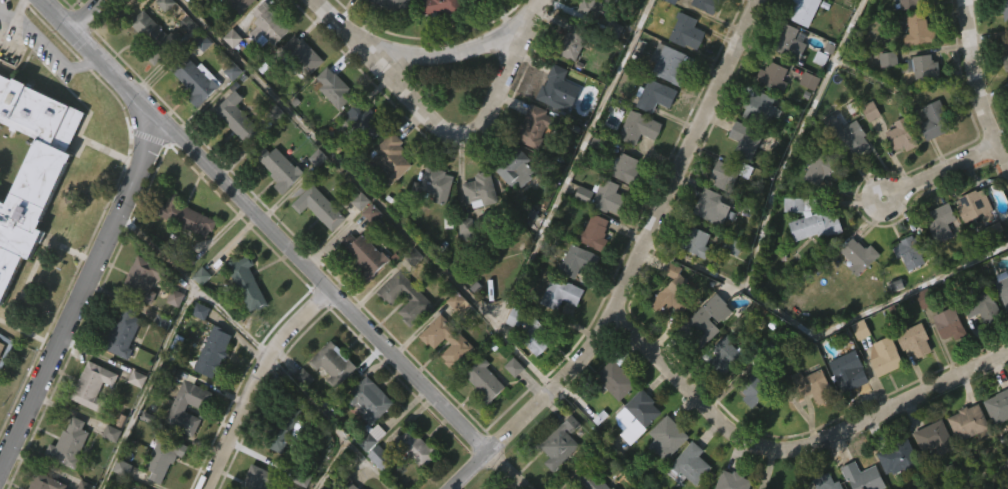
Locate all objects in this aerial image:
building: (897, 1)
building: (913, 3)
building: (184, 4)
building: (239, 5)
building: (393, 5)
building: (706, 5)
building: (349, 6)
building: (441, 6)
building: (1003, 7)
building: (804, 11)
building: (817, 11)
road: (8, 14)
building: (471, 14)
road: (86, 15)
building: (603, 15)
building: (230, 23)
building: (268, 23)
building: (665, 27)
building: (388, 28)
road: (11, 31)
building: (437, 31)
building: (702, 31)
building: (920, 31)
building: (687, 32)
road: (352, 33)
building: (1000, 35)
building: (154, 36)
building: (591, 40)
building: (791, 41)
building: (574, 42)
building: (198, 45)
road: (47, 46)
road: (477, 46)
building: (300, 56)
building: (263, 59)
building: (1006, 61)
building: (670, 64)
building: (925, 68)
building: (149, 69)
building: (773, 77)
building: (567, 78)
building: (196, 81)
road: (979, 86)
building: (298, 87)
building: (555, 87)
building: (334, 88)
building: (1003, 88)
building: (883, 91)
building: (655, 96)
building: (921, 101)
building: (759, 107)
building: (190, 113)
building: (805, 113)
building: (1006, 117)
building: (235, 118)
building: (365, 120)
building: (936, 121)
building: (540, 126)
building: (640, 127)
road: (471, 134)
building: (902, 137)
building: (854, 139)
building: (746, 140)
road: (796, 142)
building: (235, 151)
building: (360, 154)
building: (930, 154)
building: (390, 158)
road: (338, 160)
building: (531, 160)
building: (31, 167)
building: (515, 167)
building: (625, 168)
building: (897, 168)
building: (280, 169)
building: (824, 169)
road: (940, 170)
building: (850, 171)
building: (733, 173)
building: (437, 185)
building: (481, 190)
building: (385, 191)
building: (609, 196)
road: (556, 200)
building: (275, 201)
building: (512, 201)
building: (622, 201)
building: (816, 203)
building: (977, 206)
building: (319, 207)
building: (713, 207)
building: (186, 215)
building: (431, 217)
building: (815, 219)
building: (941, 221)
building: (476, 223)
building: (580, 227)
building: (597, 233)
building: (356, 234)
building: (315, 240)
building: (970, 240)
building: (696, 241)
road: (286, 243)
building: (183, 249)
building: (912, 250)
building: (365, 254)
building: (808, 254)
building: (860, 255)
building: (938, 255)
building: (461, 261)
building: (578, 261)
road: (632, 265)
building: (693, 275)
building: (143, 277)
building: (728, 279)
building: (246, 280)
road: (195, 285)
building: (905, 285)
building: (361, 286)
building: (854, 288)
building: (1004, 289)
building: (561, 292)
road: (82, 296)
building: (416, 296)
building: (673, 296)
building: (983, 304)
building: (197, 308)
building: (139, 311)
building: (242, 315)
building: (705, 322)
building: (949, 322)
building: (1001, 324)
building: (556, 326)
building: (667, 326)
building: (412, 329)
building: (171, 330)
building: (530, 330)
road: (823, 331)
building: (121, 332)
building: (915, 339)
building: (977, 340)
building: (196, 343)
building: (460, 343)
building: (1, 346)
building: (6, 348)
building: (511, 350)
building: (213, 351)
building: (701, 354)
building: (723, 354)
building: (885, 356)
building: (945, 357)
building: (334, 362)
building: (119, 365)
building: (531, 371)
building: (847, 371)
building: (617, 374)
building: (910, 374)
building: (453, 375)
building: (485, 379)
road: (256, 381)
building: (209, 384)
building: (92, 385)
building: (814, 385)
building: (756, 388)
building: (880, 388)
building: (717, 393)
building: (329, 396)
building: (370, 399)
building: (510, 399)
building: (843, 404)
building: (998, 406)
building: (178, 407)
building: (133, 411)
building: (300, 411)
building: (611, 412)
building: (480, 413)
building: (637, 416)
building: (88, 417)
building: (808, 419)
building: (968, 422)
building: (748, 423)
building: (287, 427)
building: (369, 436)
building: (668, 437)
building: (935, 438)
building: (174, 439)
building: (995, 439)
building: (69, 443)
building: (561, 443)
building: (417, 447)
building: (632, 447)
road: (791, 447)
building: (963, 455)
building: (163, 456)
building: (380, 456)
building: (896, 457)
building: (282, 460)
building: (692, 463)
building: (107, 465)
building: (663, 469)
building: (930, 470)
building: (66, 471)
building: (362, 472)
building: (557, 473)
building: (864, 476)
building: (410, 477)
building: (259, 478)
building: (164, 480)
building: (589, 480)
building: (733, 481)
building: (44, 482)
building: (828, 482)
building: (894, 482)
building: (687, 483)
building: (373, 484)
building: (352, 486)
building: (135, 488)
building: (614, 488)

